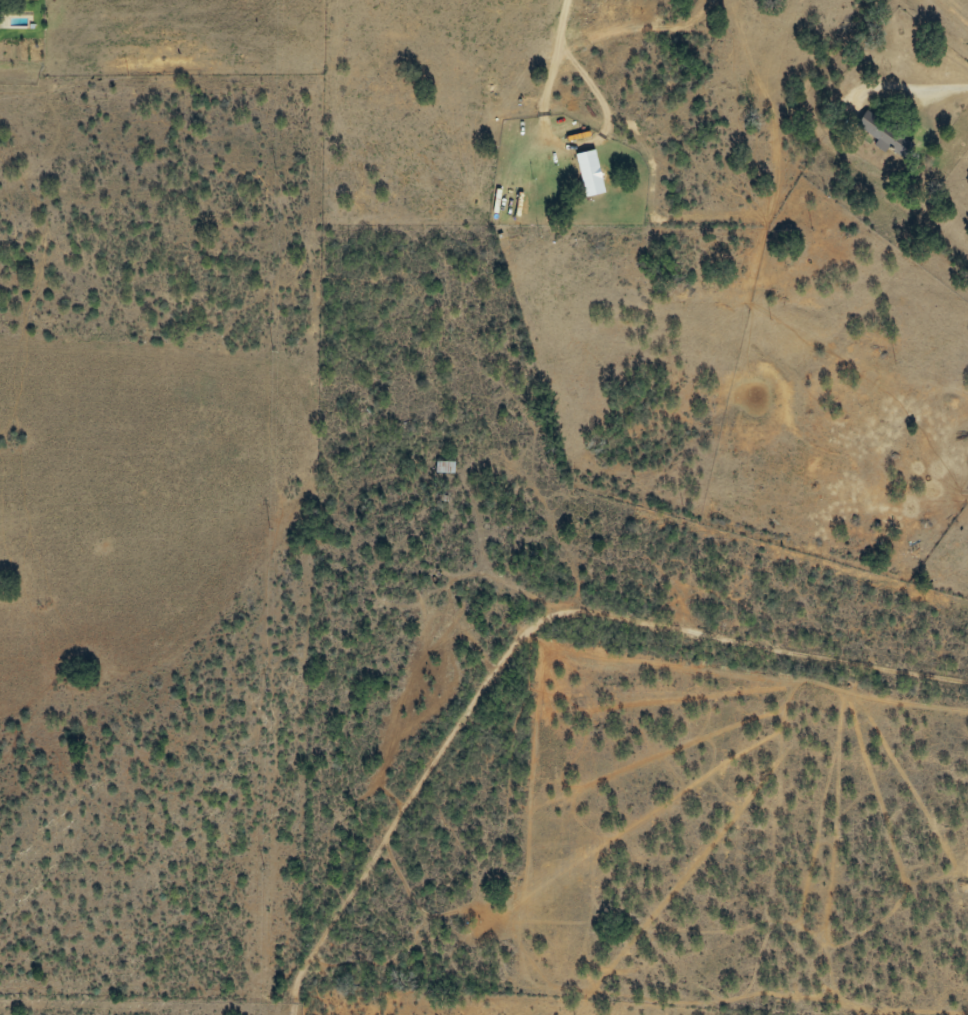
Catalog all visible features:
building: (882, 133)
building: (590, 173)
building: (445, 466)
road: (550, 660)

